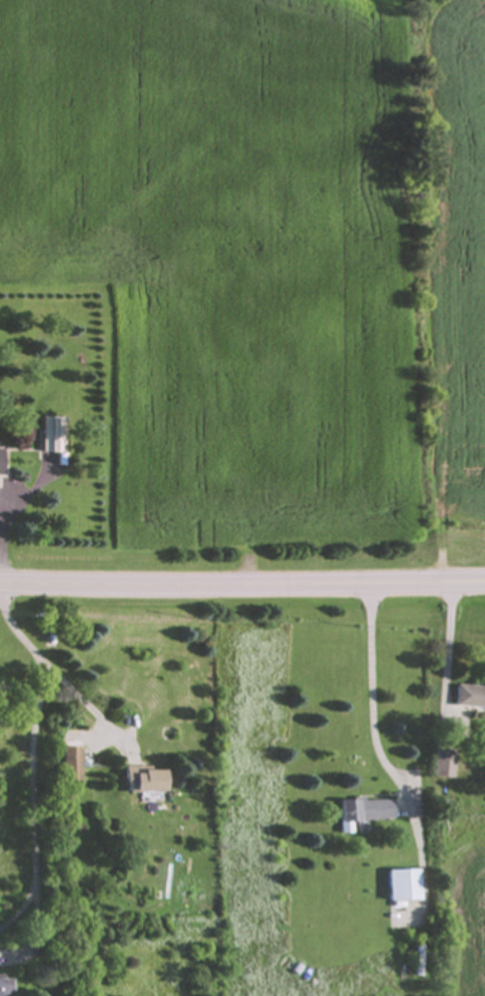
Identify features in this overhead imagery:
building: (46, 436)
road: (242, 585)
road: (450, 647)
building: (467, 697)
road: (89, 706)
road: (370, 743)
road: (36, 754)
building: (439, 764)
building: (65, 765)
building: (136, 780)
building: (358, 810)
building: (397, 885)
building: (413, 962)
building: (3, 987)

